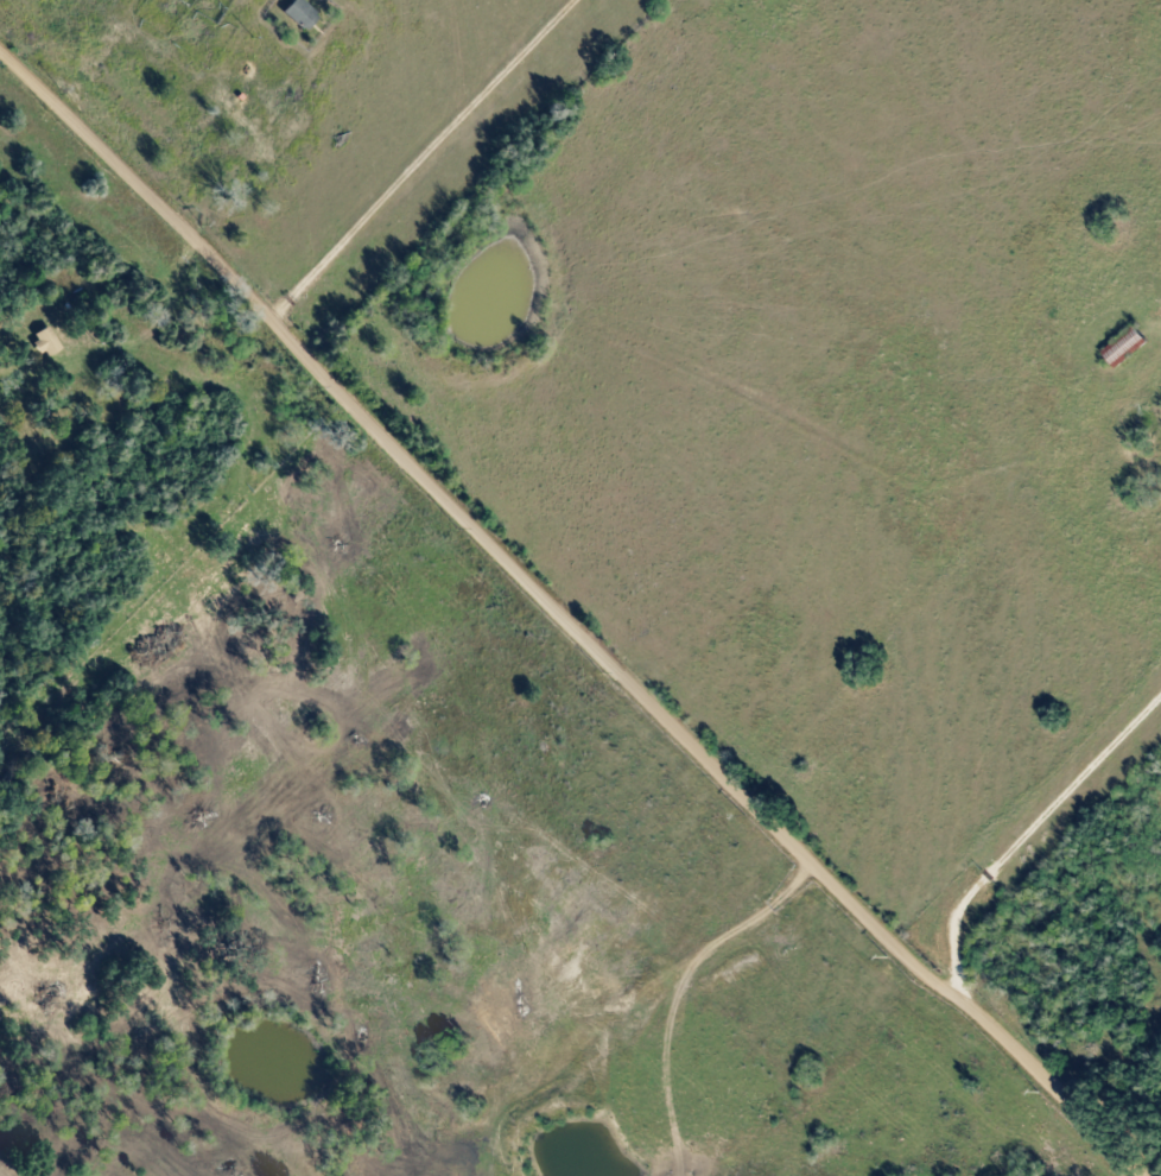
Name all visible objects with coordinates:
building: (305, 14)
building: (50, 342)
road: (475, 521)
road: (1028, 834)
road: (1054, 1082)
road: (932, 1092)

